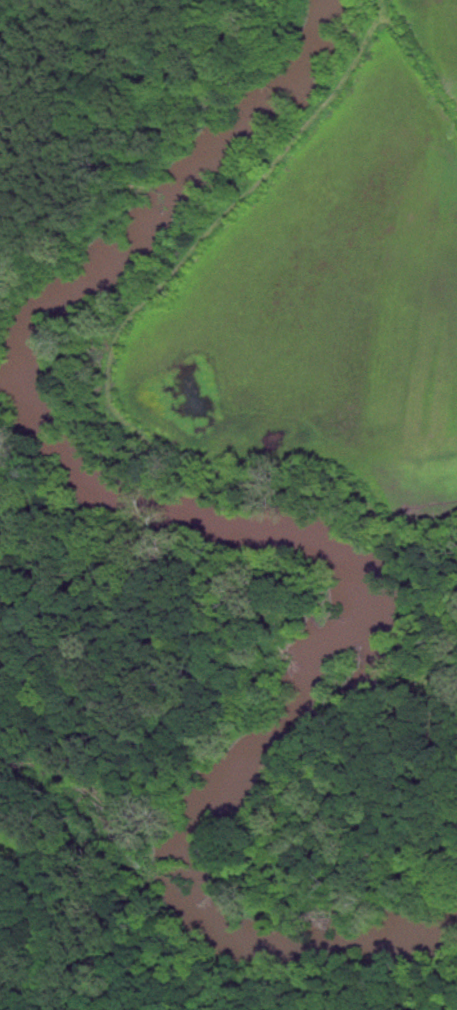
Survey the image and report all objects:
river: (258, 532)

